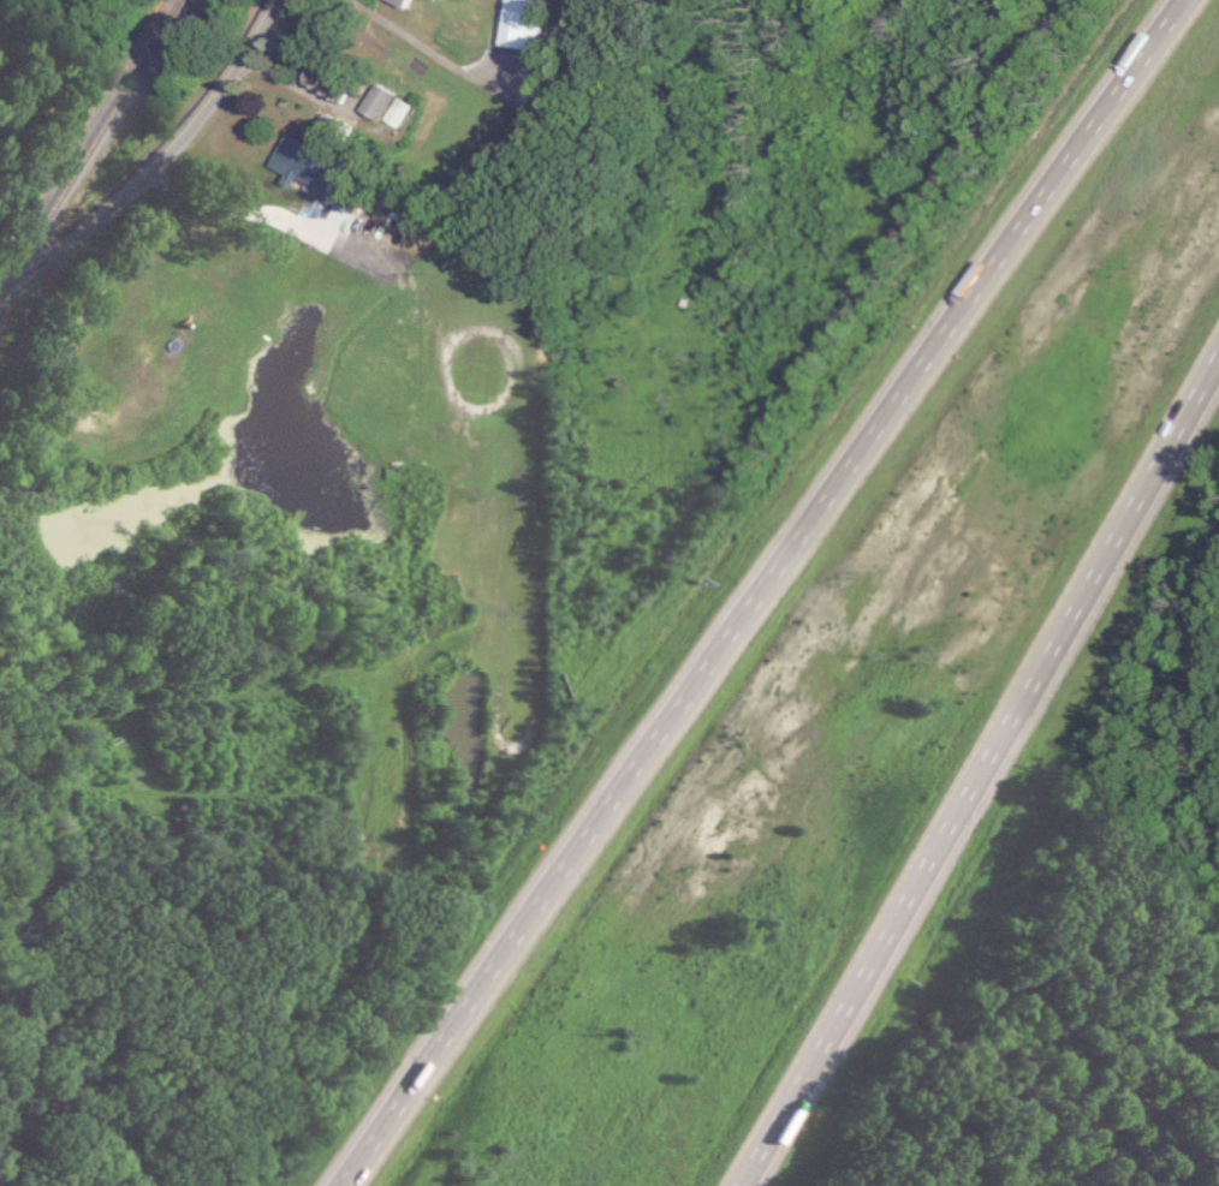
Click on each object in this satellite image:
building: (397, 2)
building: (517, 23)
building: (321, 82)
road: (353, 94)
building: (381, 106)
railway: (97, 151)
road: (161, 160)
building: (303, 165)
road: (226, 211)
road: (753, 585)
road: (980, 769)

